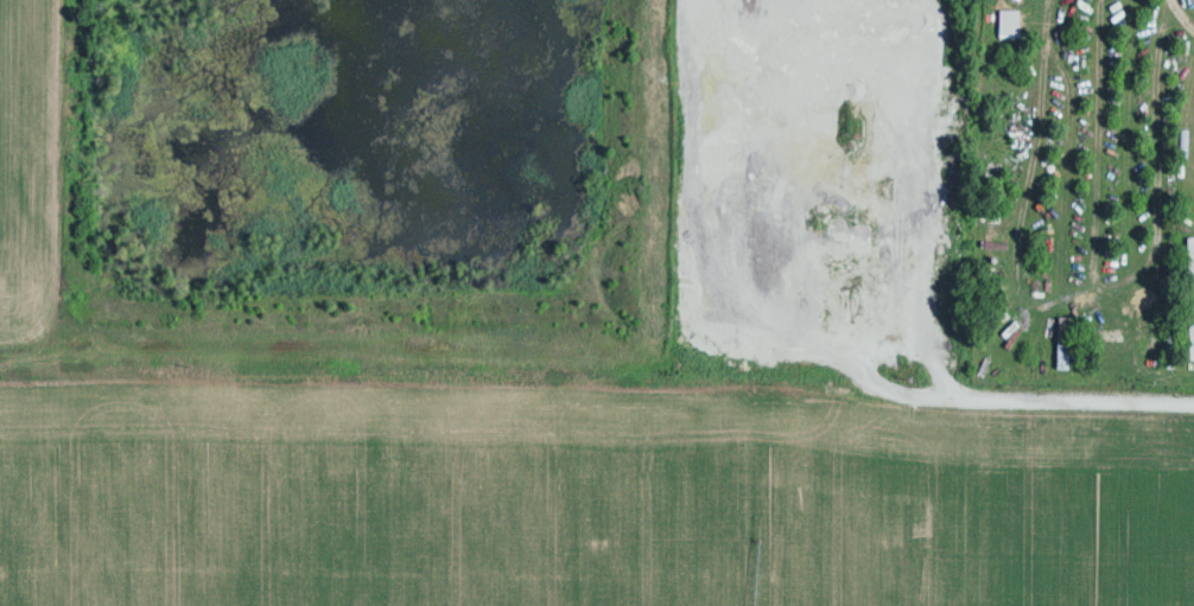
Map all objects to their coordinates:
building: (1189, 259)
building: (1190, 331)
building: (1062, 340)
road: (597, 388)

